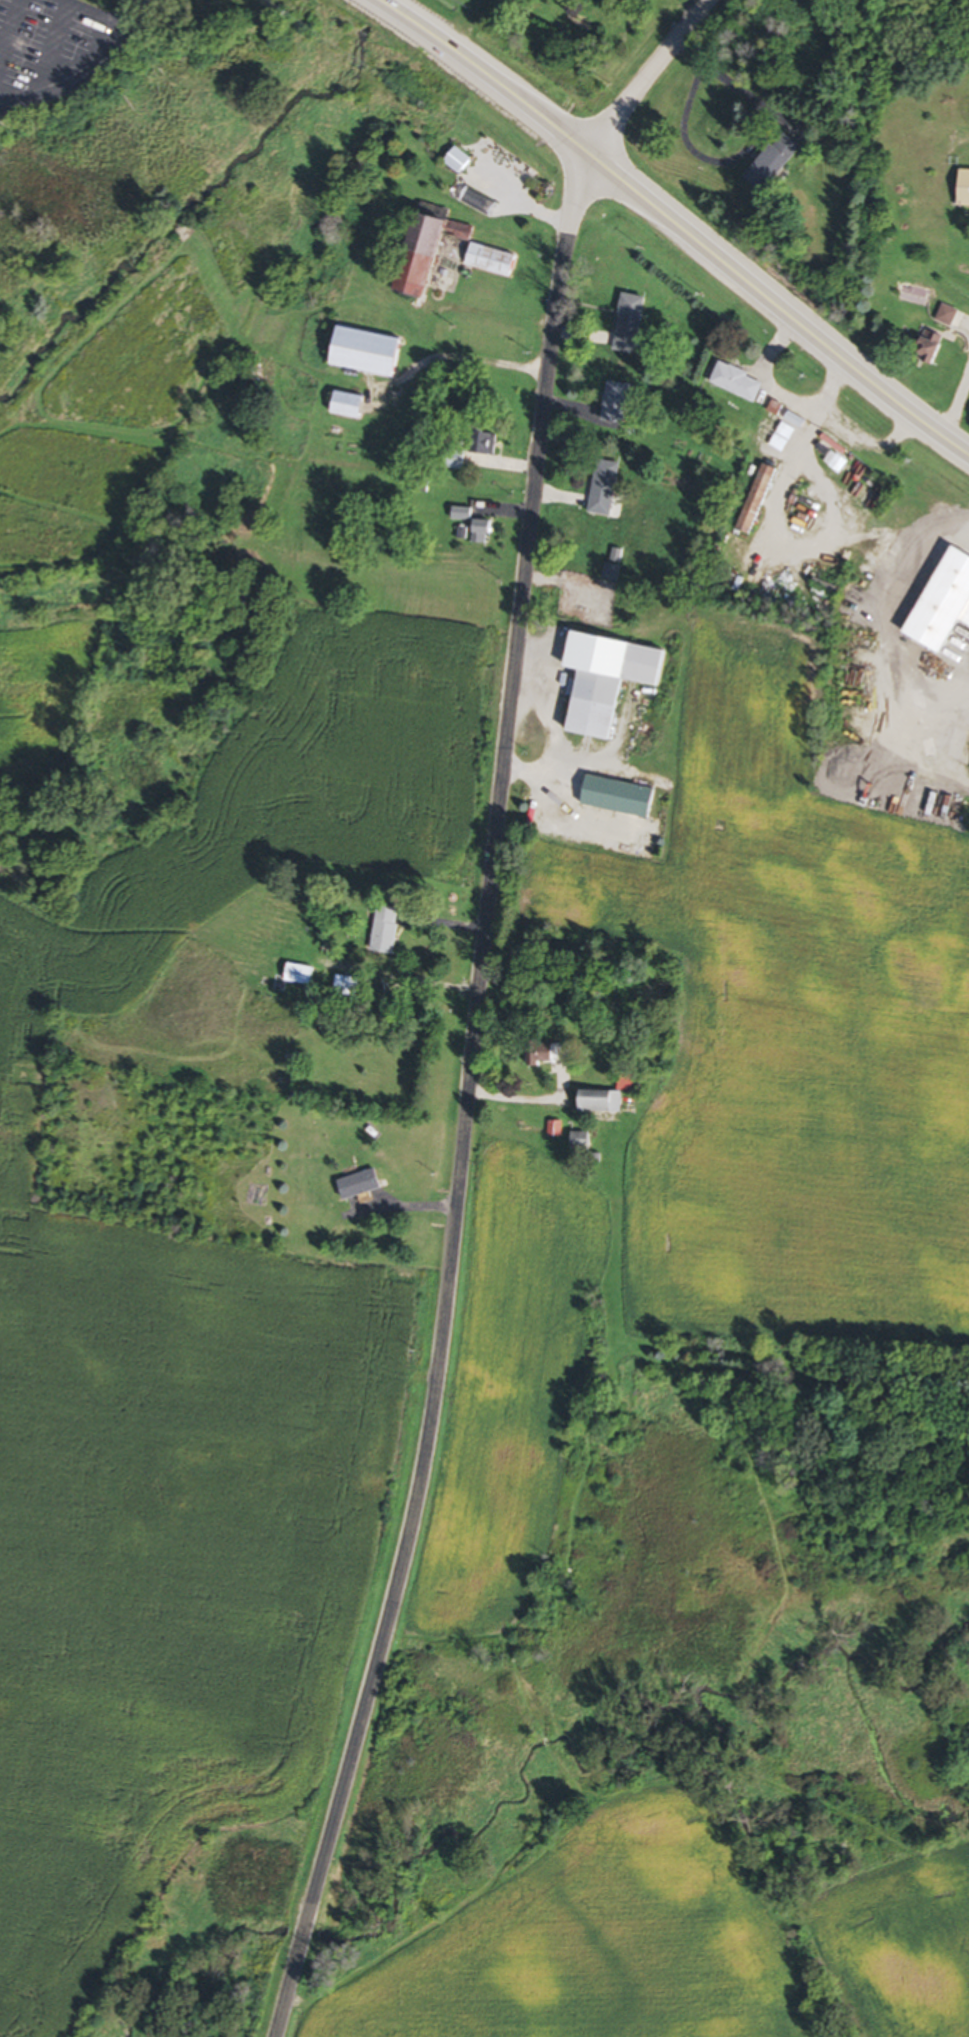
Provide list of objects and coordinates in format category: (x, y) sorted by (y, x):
park: (438, 14)
road: (79, 64)
road: (648, 76)
building: (458, 163)
building: (775, 164)
building: (964, 192)
road: (677, 227)
building: (433, 256)
building: (493, 264)
building: (635, 311)
building: (945, 319)
building: (930, 350)
building: (371, 356)
road: (454, 356)
building: (739, 385)
road: (954, 393)
building: (617, 405)
building: (351, 409)
building: (782, 442)
building: (487, 447)
building: (606, 491)
building: (758, 503)
building: (475, 528)
building: (612, 570)
building: (944, 607)
road: (887, 659)
building: (607, 684)
building: (618, 800)
building: (387, 932)
building: (302, 977)
building: (347, 990)
building: (542, 1056)
road: (522, 1097)
road: (459, 1101)
building: (606, 1104)
building: (582, 1142)
building: (365, 1187)

